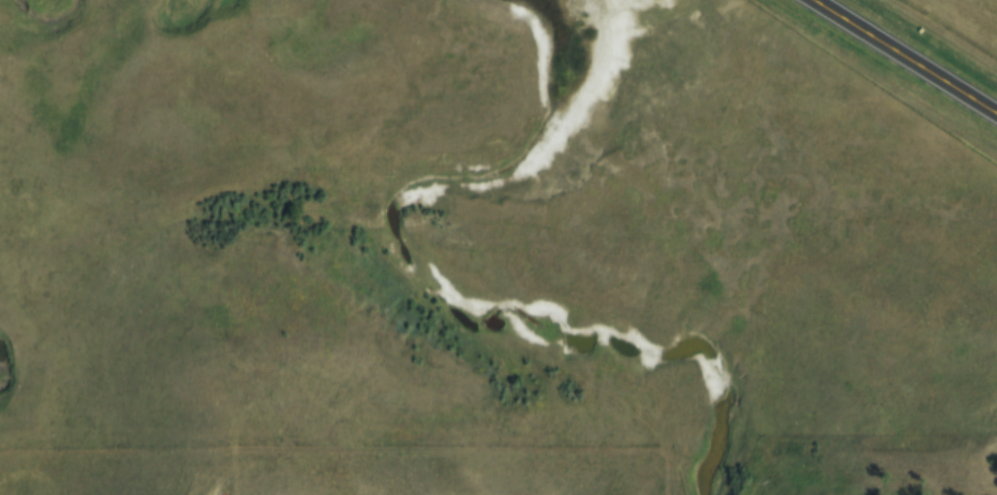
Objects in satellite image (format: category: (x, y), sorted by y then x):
road: (902, 57)

